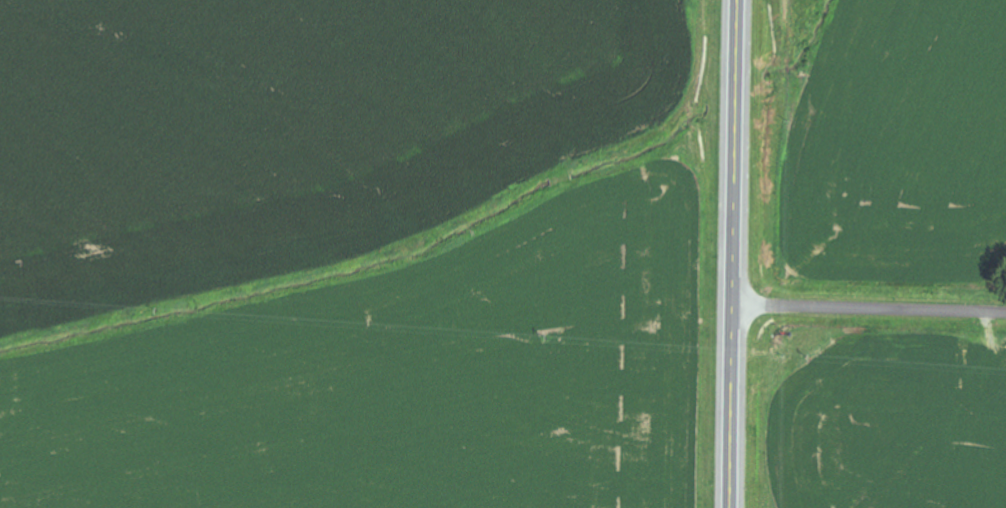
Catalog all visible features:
road: (733, 253)
road: (869, 309)

